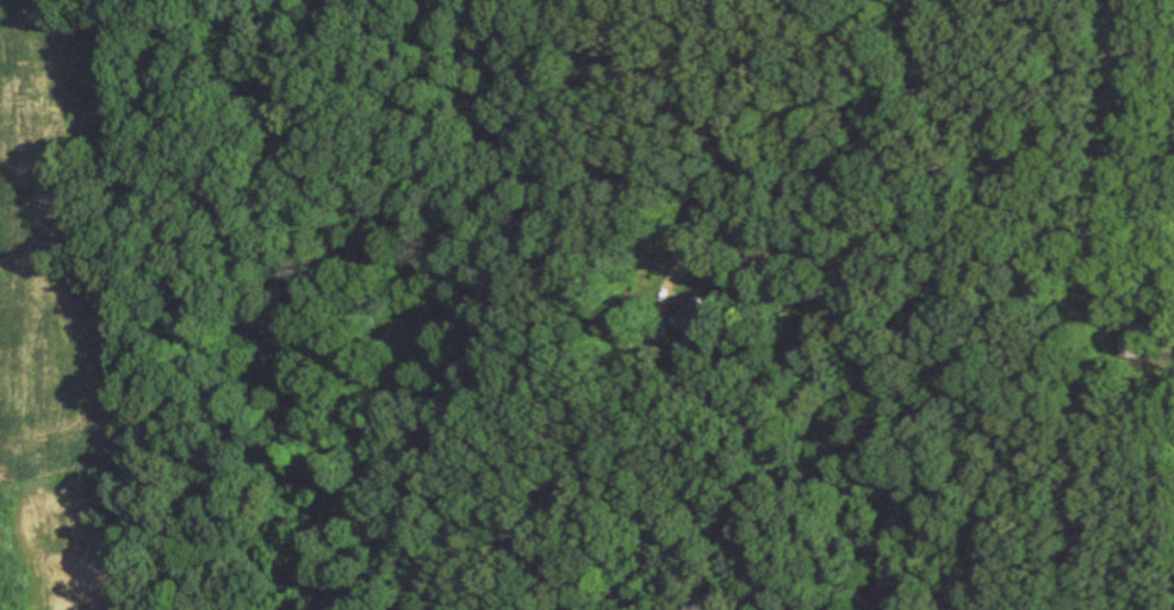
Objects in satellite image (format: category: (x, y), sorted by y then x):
road: (936, 245)

